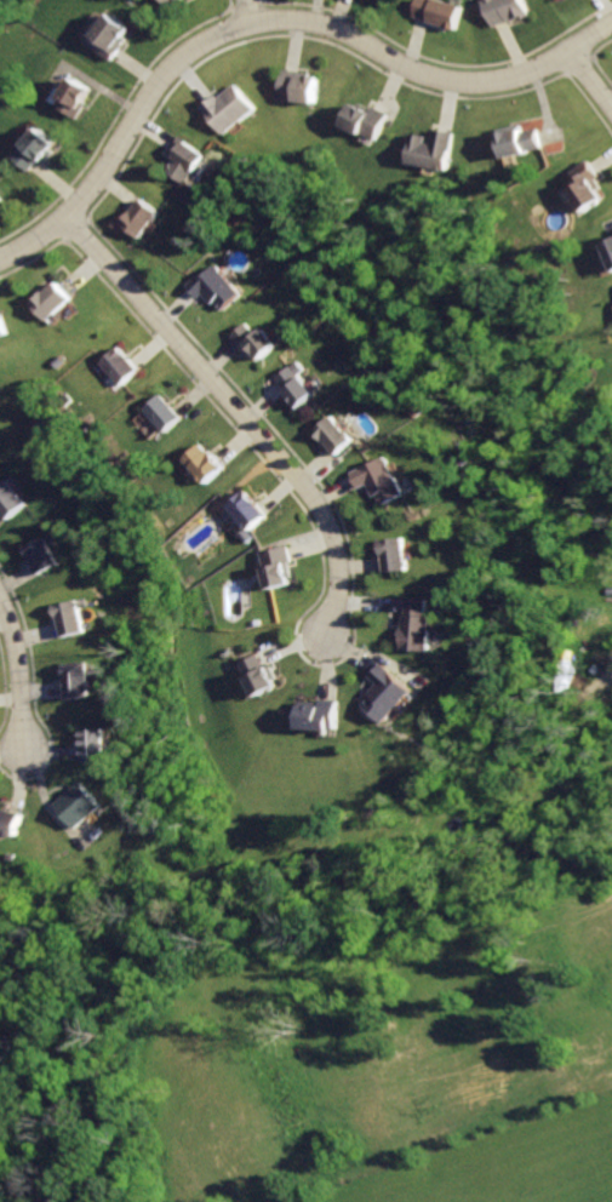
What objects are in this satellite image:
building: (175, 2)
building: (514, 11)
road: (247, 12)
building: (446, 12)
road: (265, 23)
building: (113, 39)
road: (594, 82)
building: (302, 86)
building: (78, 101)
building: (229, 110)
building: (368, 121)
building: (521, 142)
building: (434, 149)
building: (36, 150)
building: (189, 161)
building: (587, 188)
building: (2, 200)
building: (144, 219)
building: (610, 246)
building: (219, 287)
building: (51, 304)
building: (2, 331)
building: (257, 339)
building: (121, 370)
building: (302, 391)
road: (225, 414)
building: (164, 416)
building: (341, 435)
building: (202, 464)
building: (385, 481)
building: (8, 503)
building: (246, 510)
building: (399, 556)
building: (42, 559)
building: (276, 565)
building: (69, 620)
building: (418, 624)
building: (258, 674)
road: (12, 679)
building: (78, 681)
building: (389, 697)
building: (321, 716)
building: (96, 746)
building: (76, 805)
road: (53, 814)
building: (12, 822)
crop: (395, 1065)

